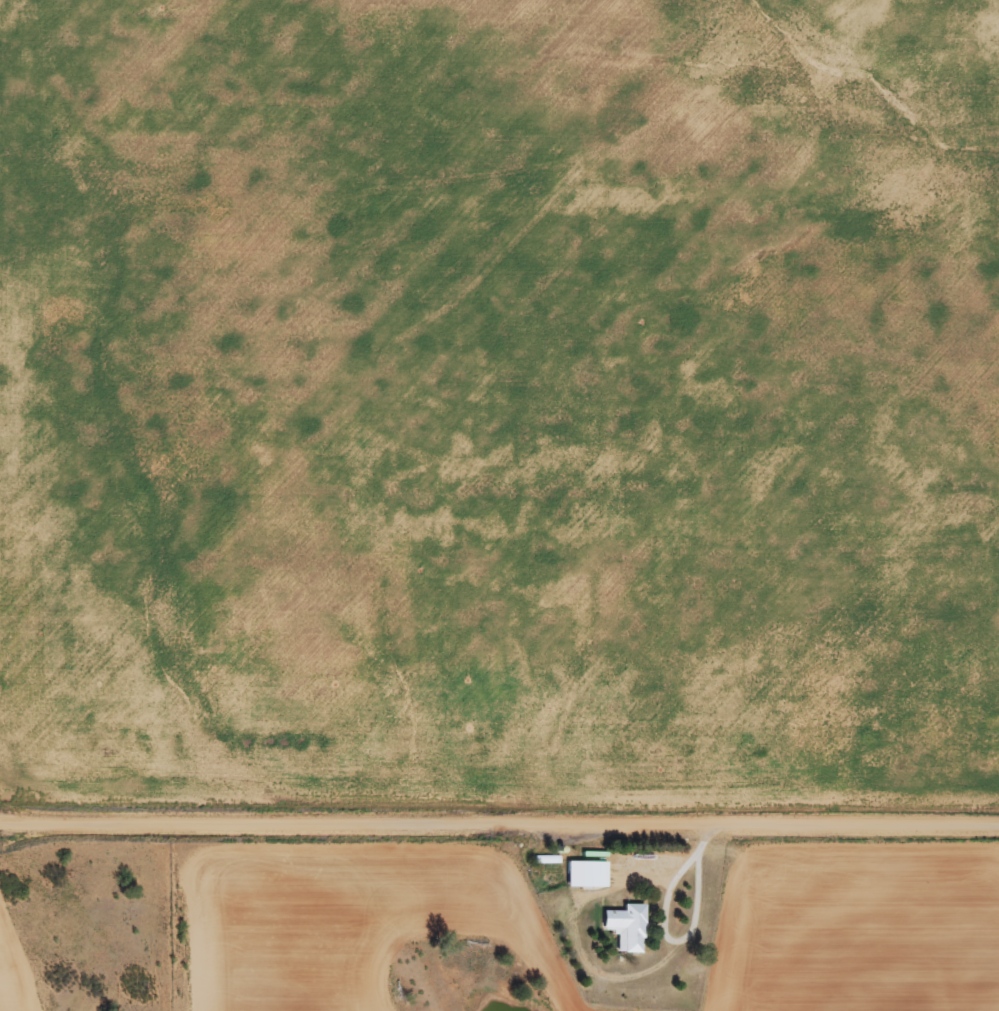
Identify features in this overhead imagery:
road: (499, 821)
building: (592, 874)
building: (625, 928)

